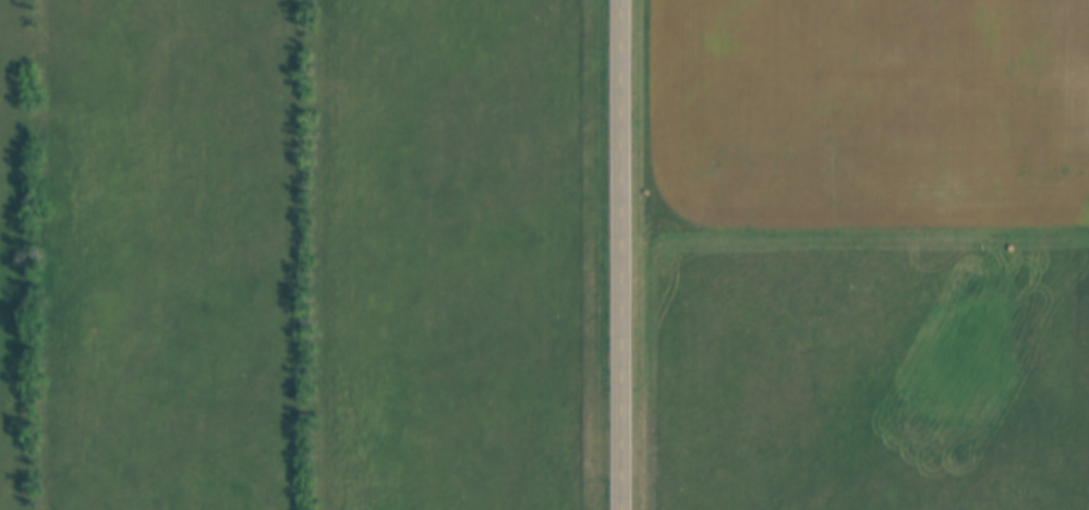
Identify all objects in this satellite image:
road: (620, 255)

